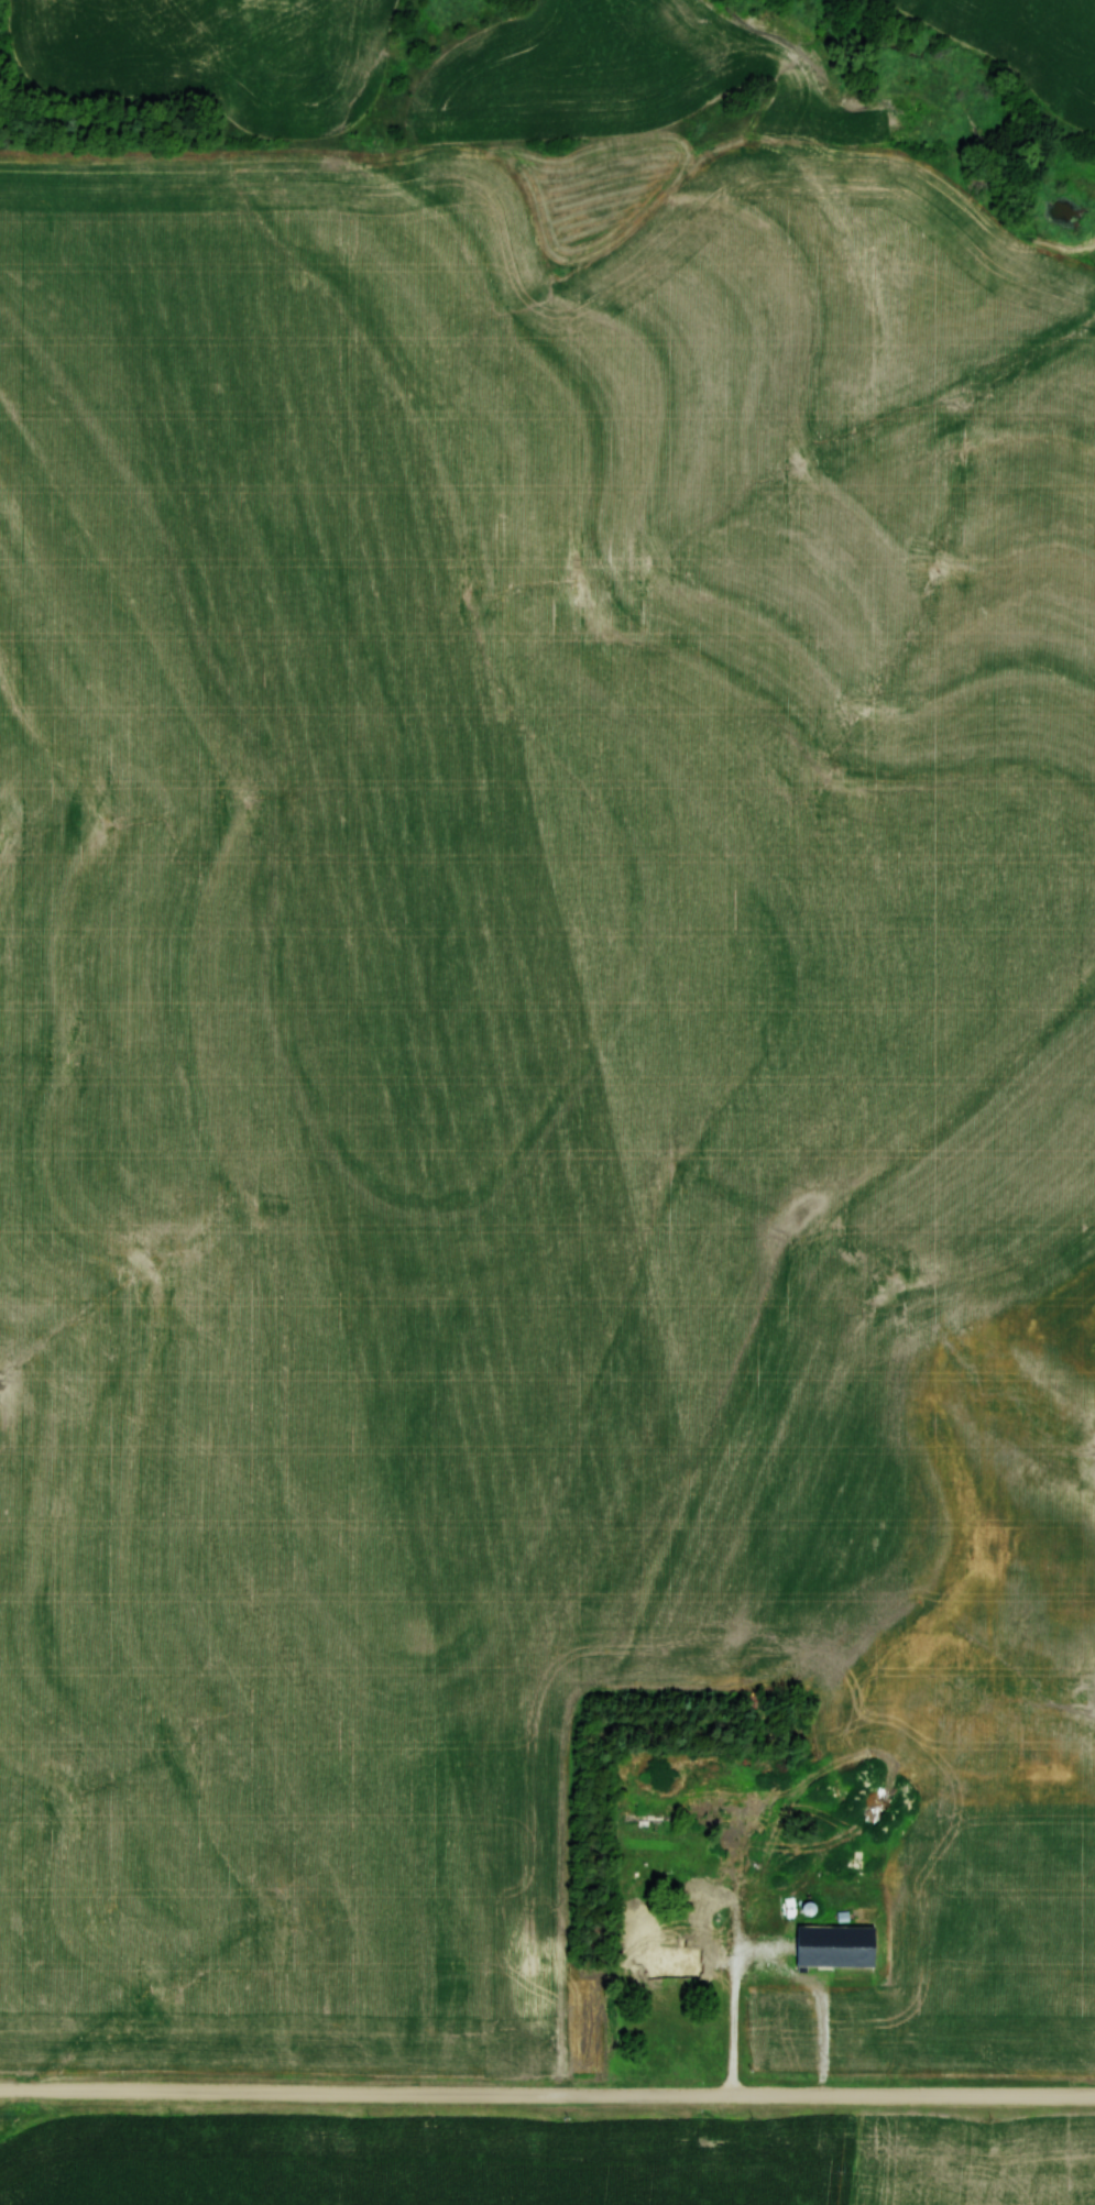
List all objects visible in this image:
building: (834, 1946)
building: (675, 1963)
road: (737, 2015)
road: (547, 2095)

